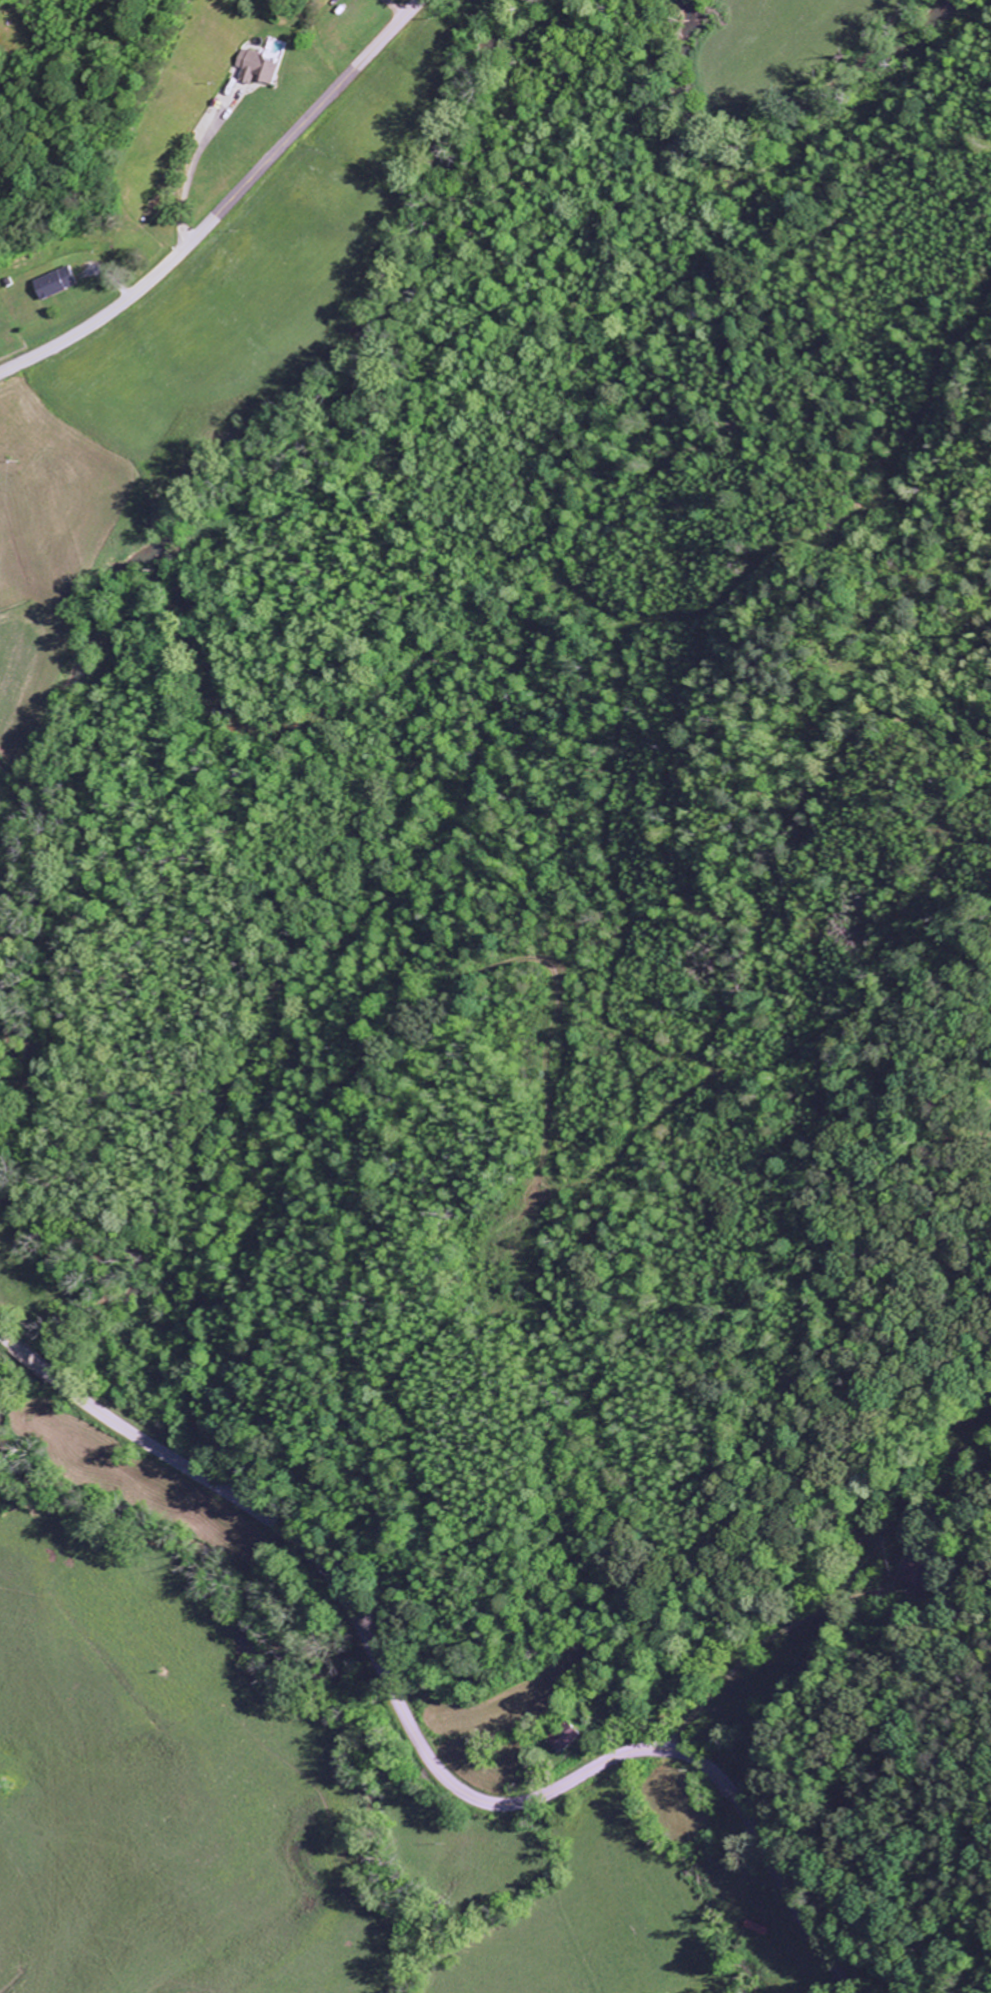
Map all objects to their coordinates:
building: (264, 67)
road: (226, 206)
building: (61, 282)
road: (477, 952)
road: (243, 1148)
building: (568, 1735)
road: (416, 1740)

